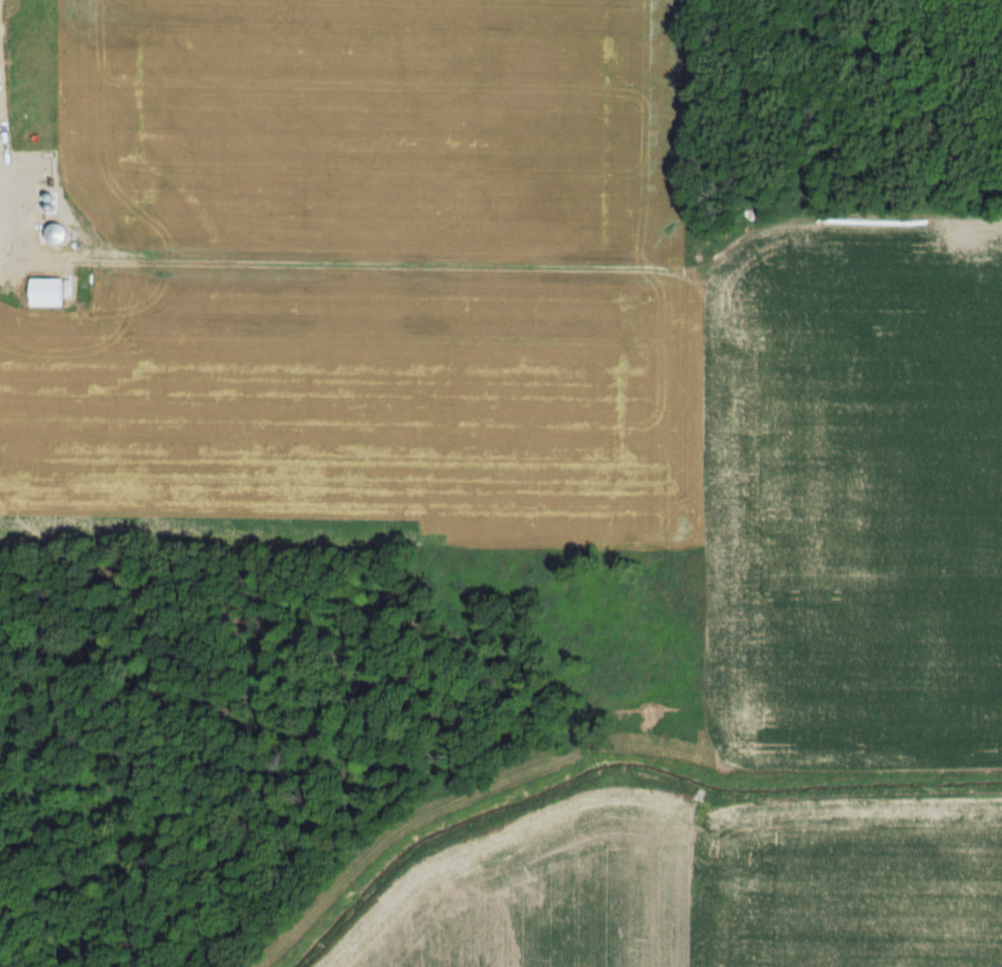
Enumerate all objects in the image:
building: (57, 232)
building: (50, 290)

